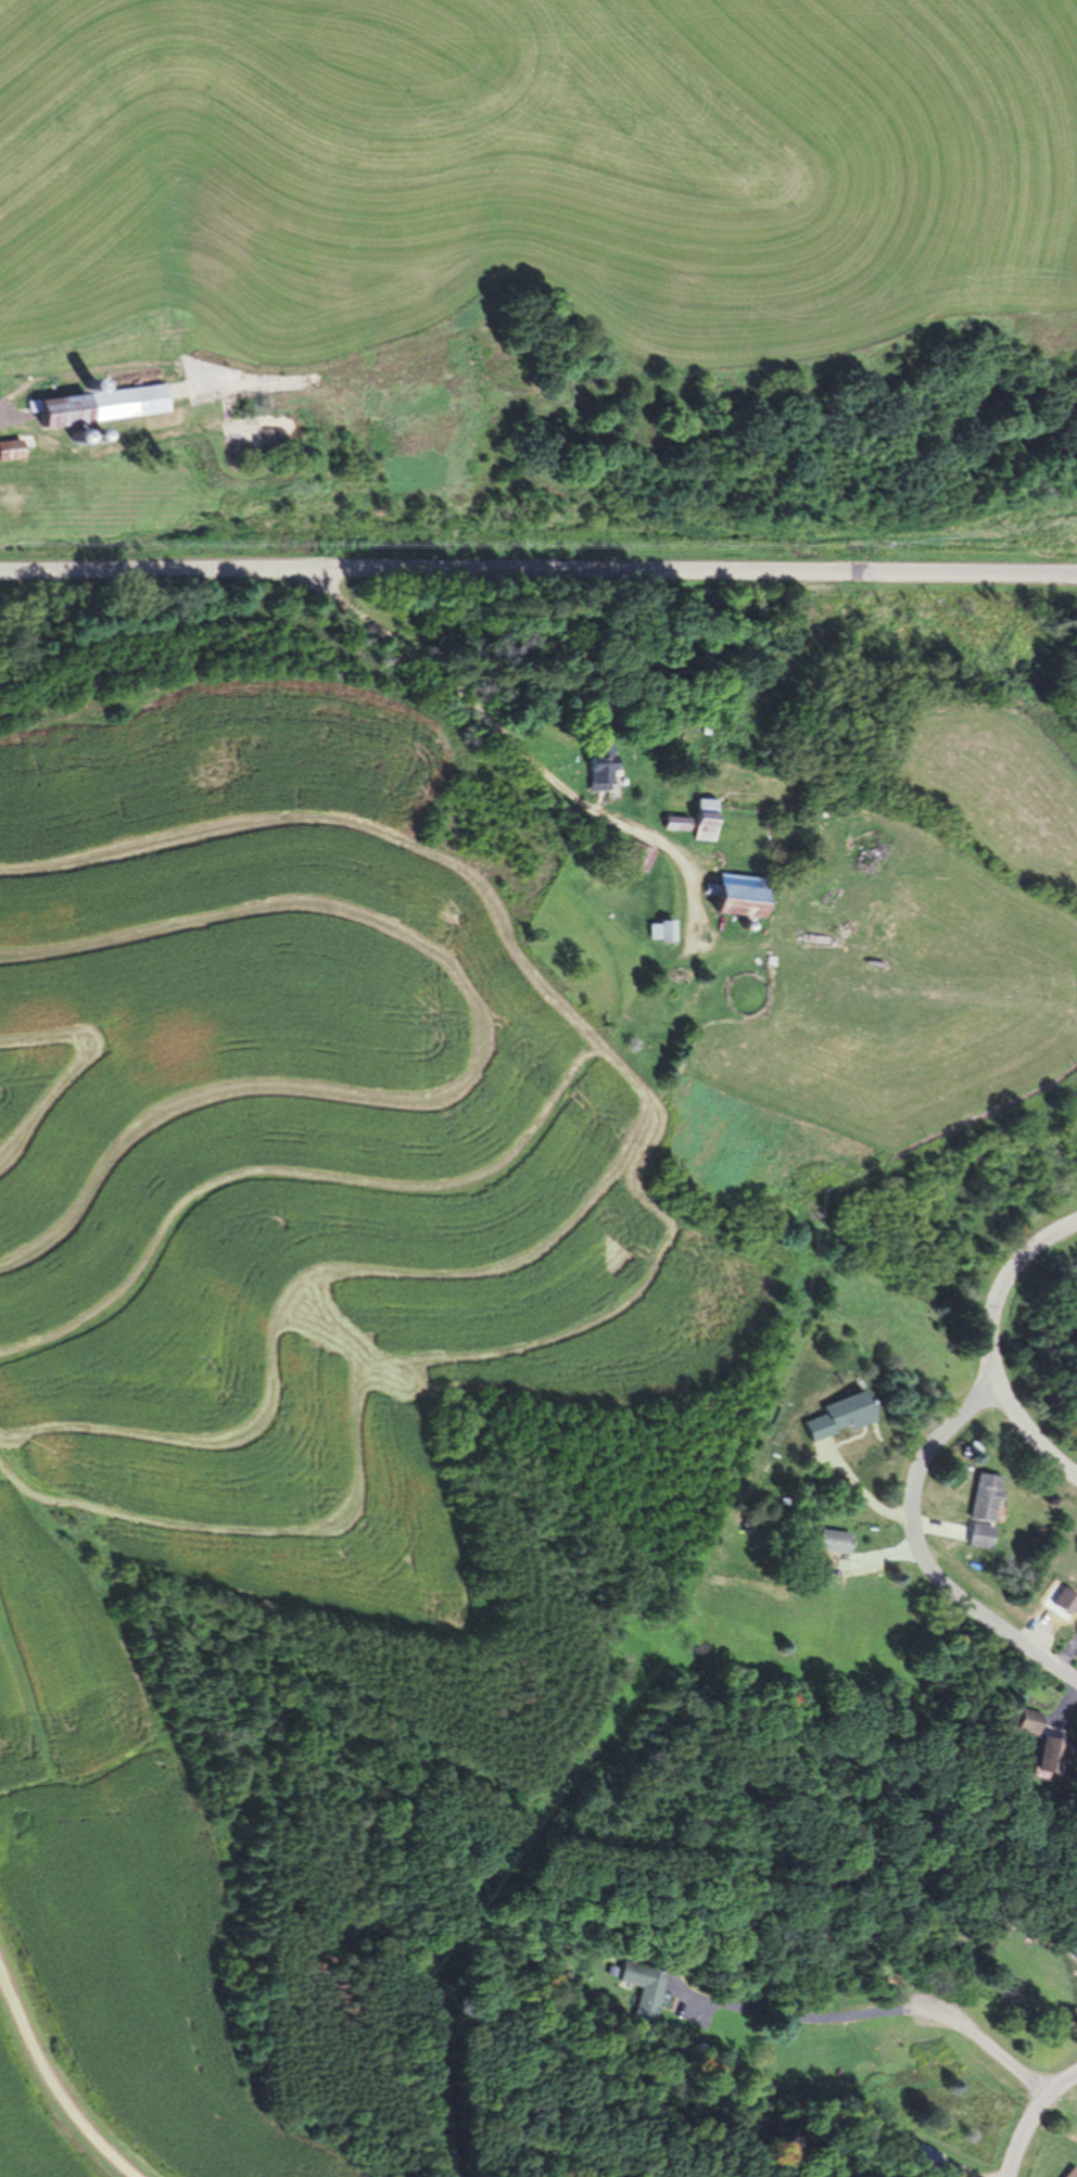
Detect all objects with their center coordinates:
road: (15, 397)
building: (102, 405)
building: (11, 448)
road: (538, 569)
road: (460, 656)
building: (601, 765)
building: (704, 819)
building: (735, 899)
building: (658, 931)
road: (996, 1345)
building: (985, 1497)
building: (980, 1536)
building: (835, 1542)
road: (918, 1551)
building: (1051, 1757)
road: (984, 2041)
road: (54, 2081)
road: (1030, 2117)
building: (1072, 2173)

